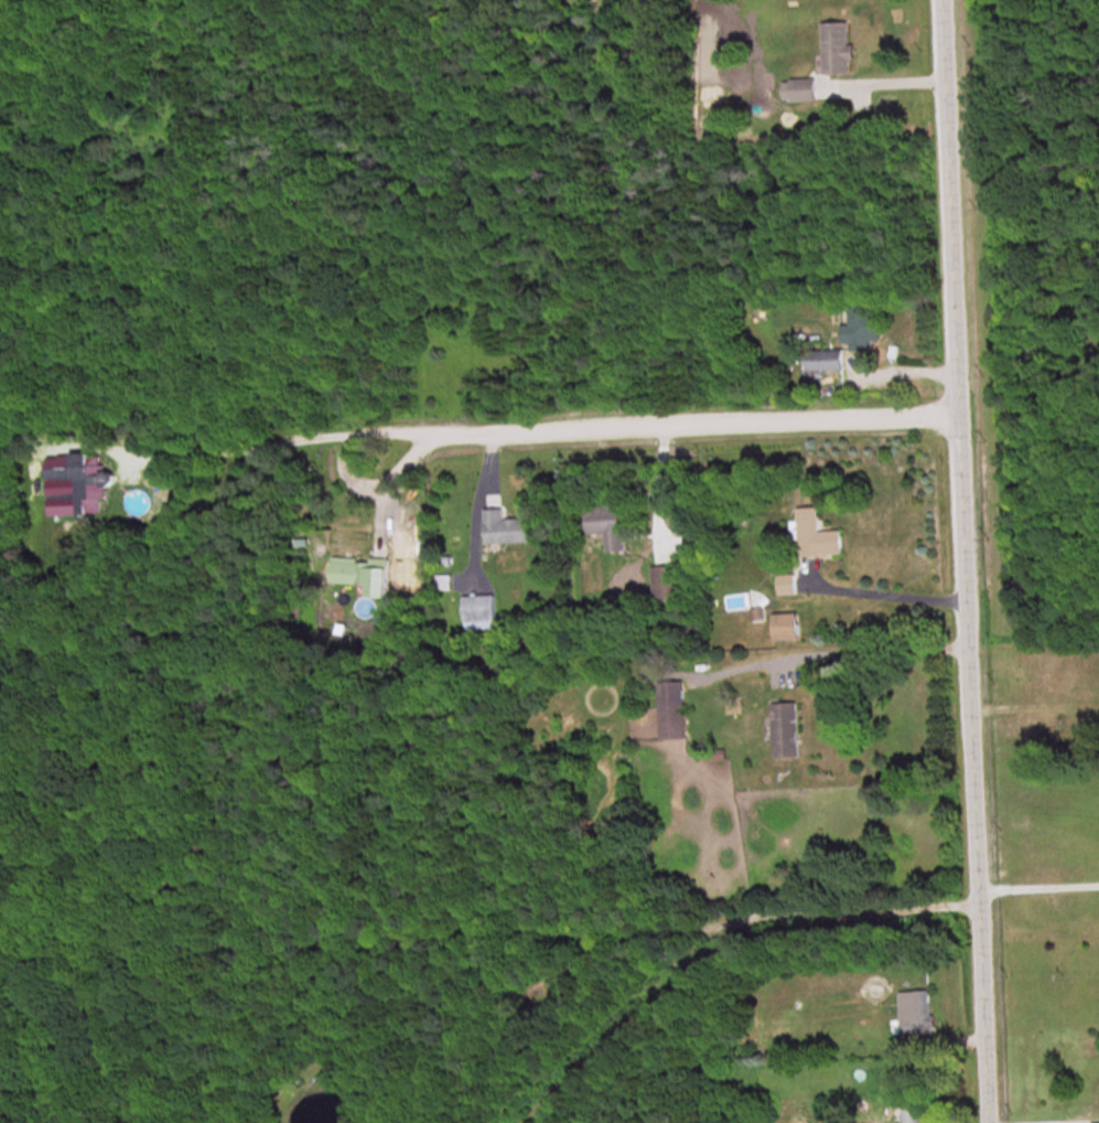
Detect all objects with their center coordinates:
building: (836, 46)
building: (802, 88)
park: (1026, 310)
building: (860, 327)
building: (823, 360)
road: (660, 420)
road: (251, 441)
building: (76, 482)
building: (606, 524)
building: (504, 527)
building: (816, 535)
road: (958, 561)
building: (358, 575)
building: (665, 581)
building: (787, 585)
road: (888, 587)
building: (478, 611)
building: (785, 625)
building: (670, 709)
building: (785, 729)
road: (1035, 880)
building: (916, 1010)
building: (914, 1109)

